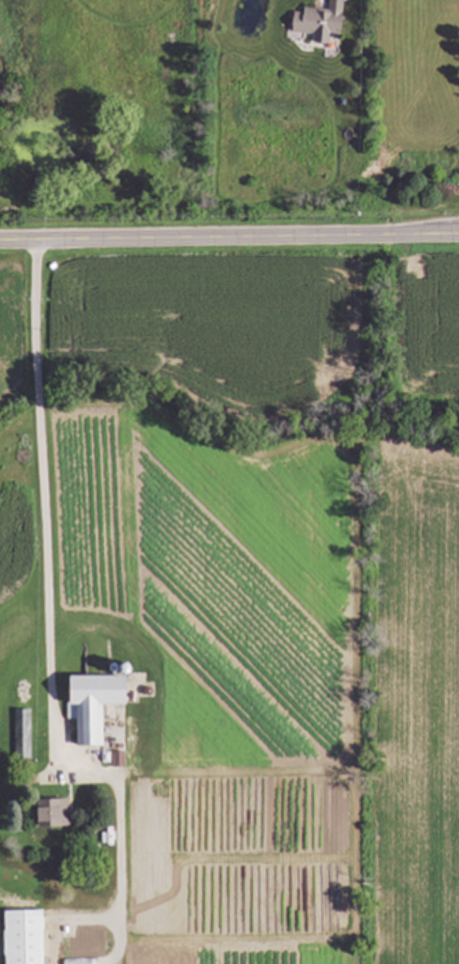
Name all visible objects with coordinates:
building: (322, 23)
park: (416, 112)
road: (229, 238)
crop: (13, 420)
crop: (276, 584)
road: (45, 612)
building: (96, 703)
building: (22, 733)
building: (53, 812)
building: (24, 936)

